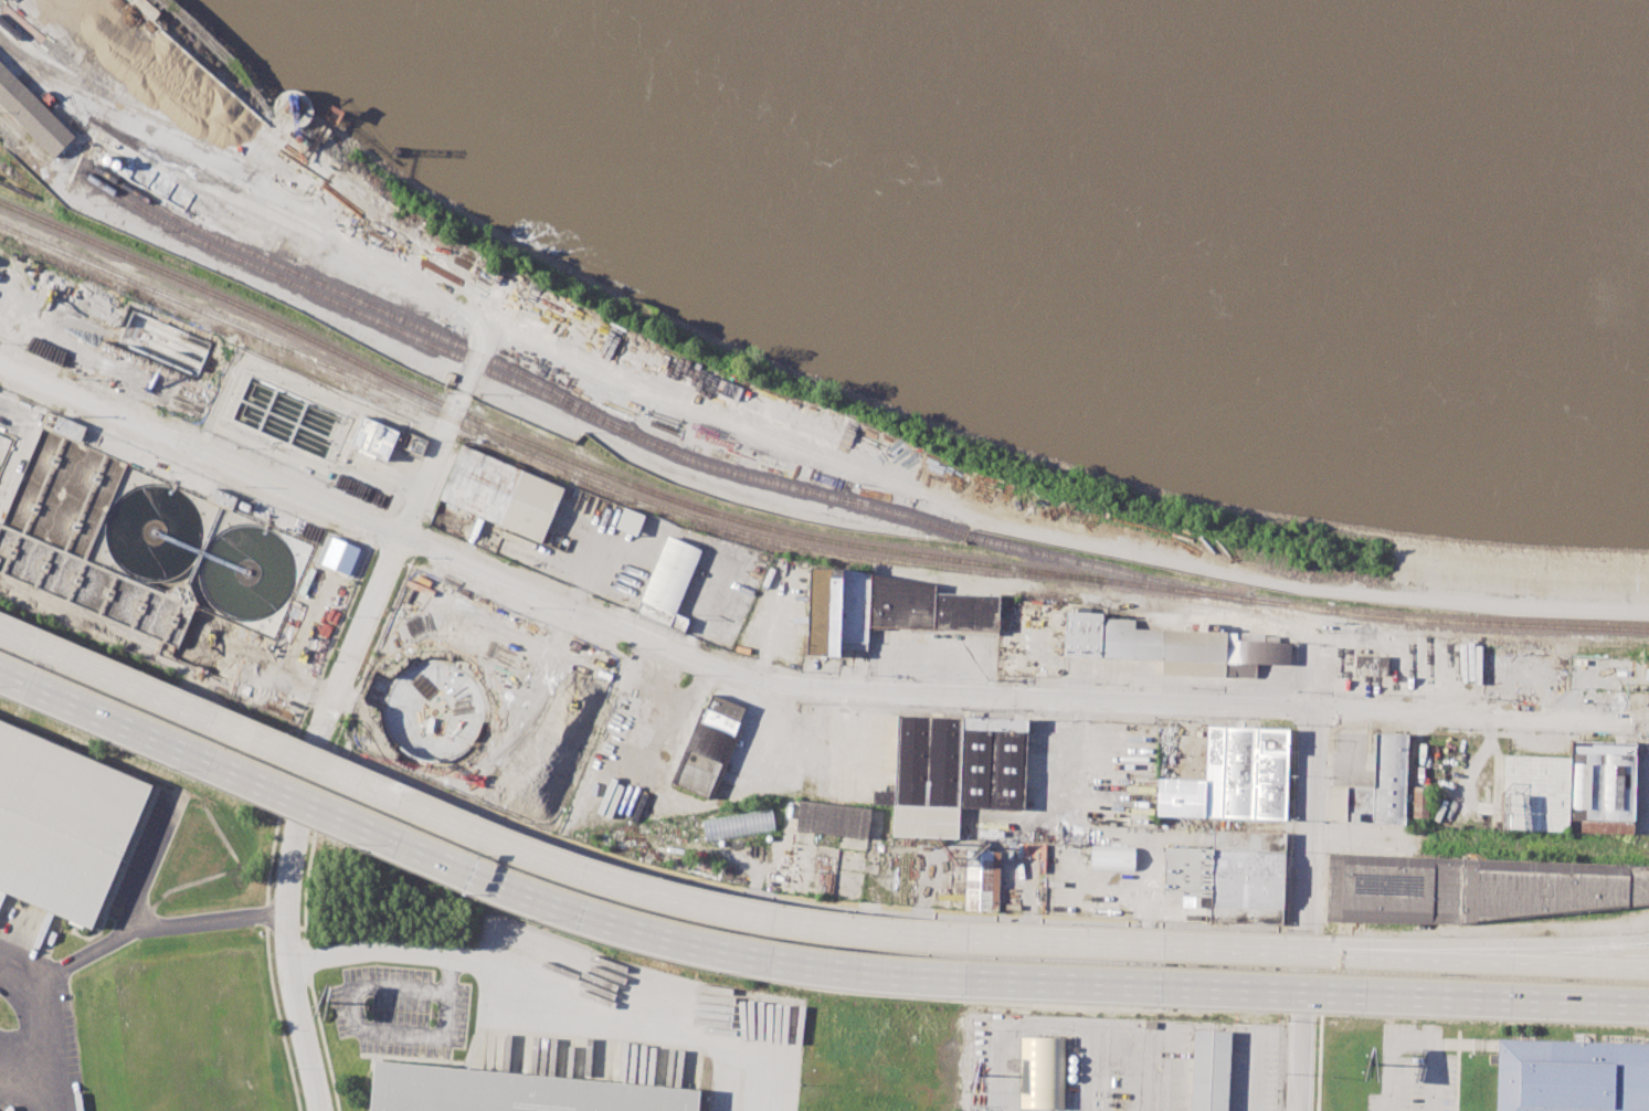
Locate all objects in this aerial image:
building: (32, 112)
river: (1185, 187)
railway: (346, 306)
building: (200, 373)
railway: (575, 403)
wastewater plant: (300, 417)
building: (373, 438)
building: (414, 443)
railway: (535, 454)
building: (500, 493)
building: (630, 520)
railway: (793, 532)
road: (397, 544)
building: (340, 555)
wastewater plant: (167, 560)
railway: (1158, 580)
building: (668, 582)
building: (855, 605)
building: (928, 606)
building: (823, 611)
building: (1082, 634)
building: (1184, 648)
building: (1371, 664)
building: (479, 671)
road: (792, 685)
building: (709, 744)
building: (928, 760)
building: (993, 763)
building: (1229, 771)
building: (1270, 773)
building: (1600, 780)
building: (1382, 784)
building: (1535, 793)
building: (882, 796)
building: (1180, 796)
building: (1420, 802)
road: (688, 803)
building: (832, 818)
building: (926, 821)
building: (62, 824)
building: (738, 824)
building: (1033, 850)
building: (1112, 857)
road: (1306, 860)
building: (1230, 875)
building: (981, 879)
building: (1472, 888)
road: (670, 898)
road: (1507, 929)
road: (131, 931)
road: (1520, 946)
road: (626, 948)
road: (286, 949)
road: (797, 960)
road: (268, 961)
road: (1520, 962)
road: (797, 973)
road: (557, 987)
parking lot: (400, 1011)
parking lot: (35, 1014)
road: (1474, 1016)
parking lot: (630, 1023)
road: (1072, 1025)
road: (373, 1029)
road: (1413, 1040)
road: (40, 1048)
road: (1298, 1061)
road: (1318, 1061)
parking lot: (1121, 1062)
building: (1209, 1070)
parking lot: (1415, 1070)
building: (1042, 1071)
building: (1572, 1076)
building: (511, 1091)

